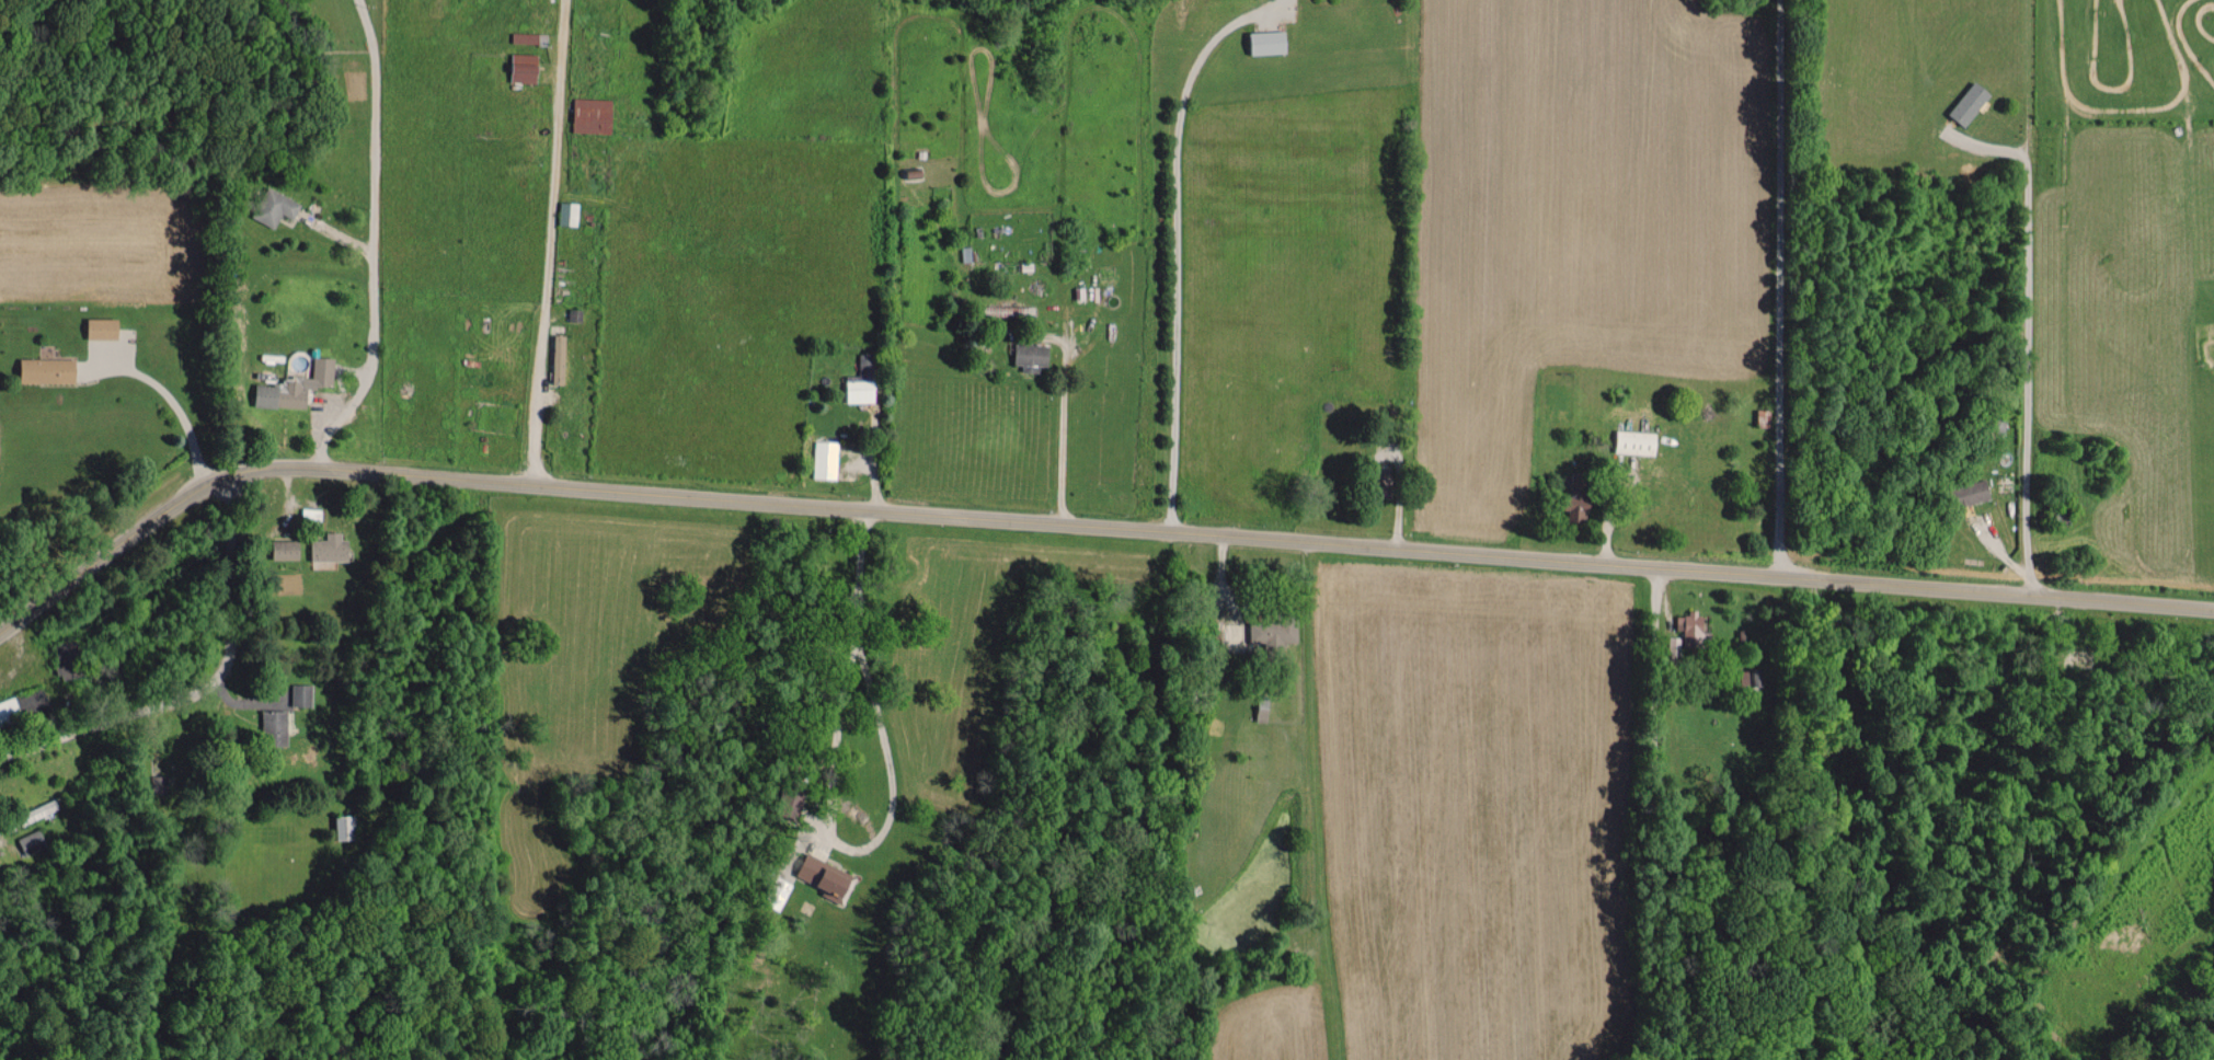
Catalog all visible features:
building: (526, 36)
building: (1269, 41)
building: (525, 67)
building: (1970, 102)
building: (593, 114)
building: (274, 206)
building: (569, 212)
road: (375, 242)
road: (1174, 244)
building: (966, 253)
road: (1775, 290)
building: (103, 327)
building: (1032, 354)
building: (559, 358)
road: (2024, 367)
building: (48, 369)
building: (863, 380)
building: (297, 385)
road: (1062, 437)
building: (1637, 441)
building: (826, 459)
building: (1977, 492)
building: (1579, 496)
road: (236, 505)
road: (1081, 528)
building: (330, 548)
building: (286, 549)
road: (1659, 599)
road: (233, 607)
building: (1691, 627)
building: (1274, 631)
building: (302, 694)
building: (35, 701)
road: (114, 722)
building: (275, 727)
road: (890, 800)
building: (41, 809)
building: (345, 827)
building: (31, 840)
building: (825, 875)

